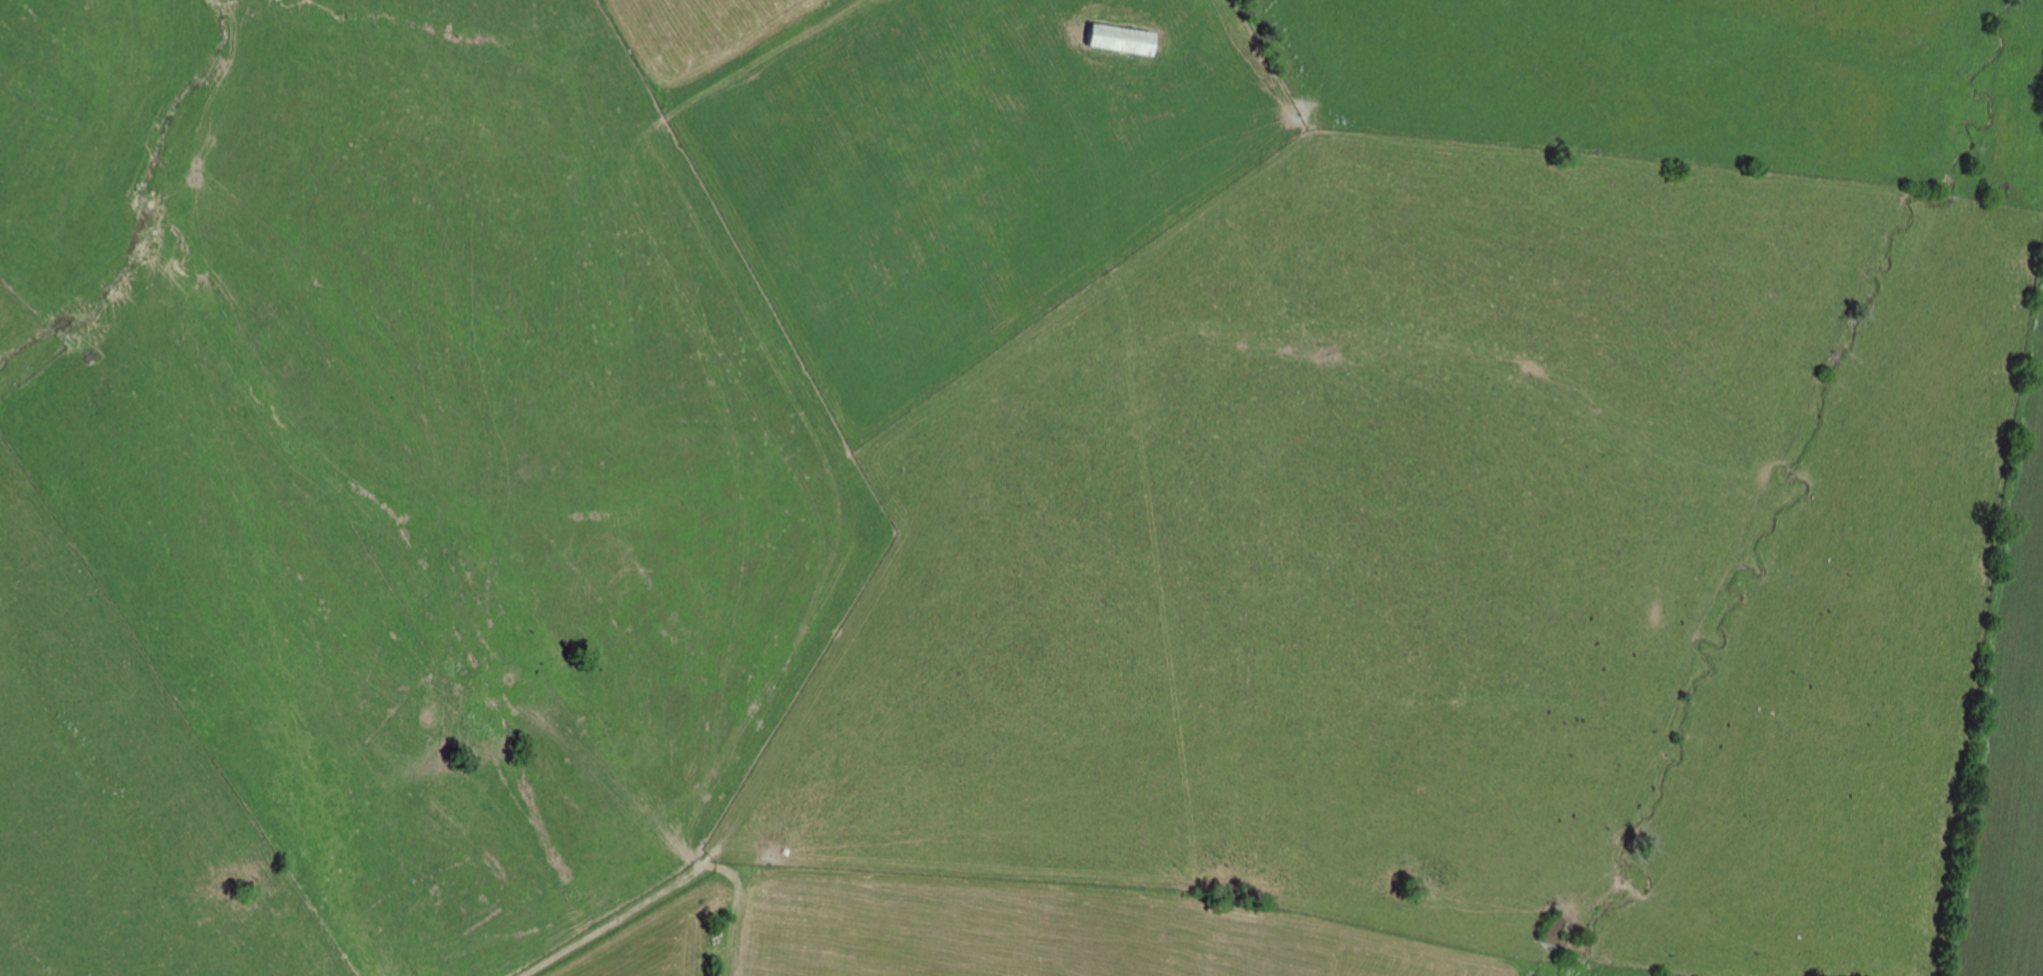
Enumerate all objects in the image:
building: (1124, 39)

